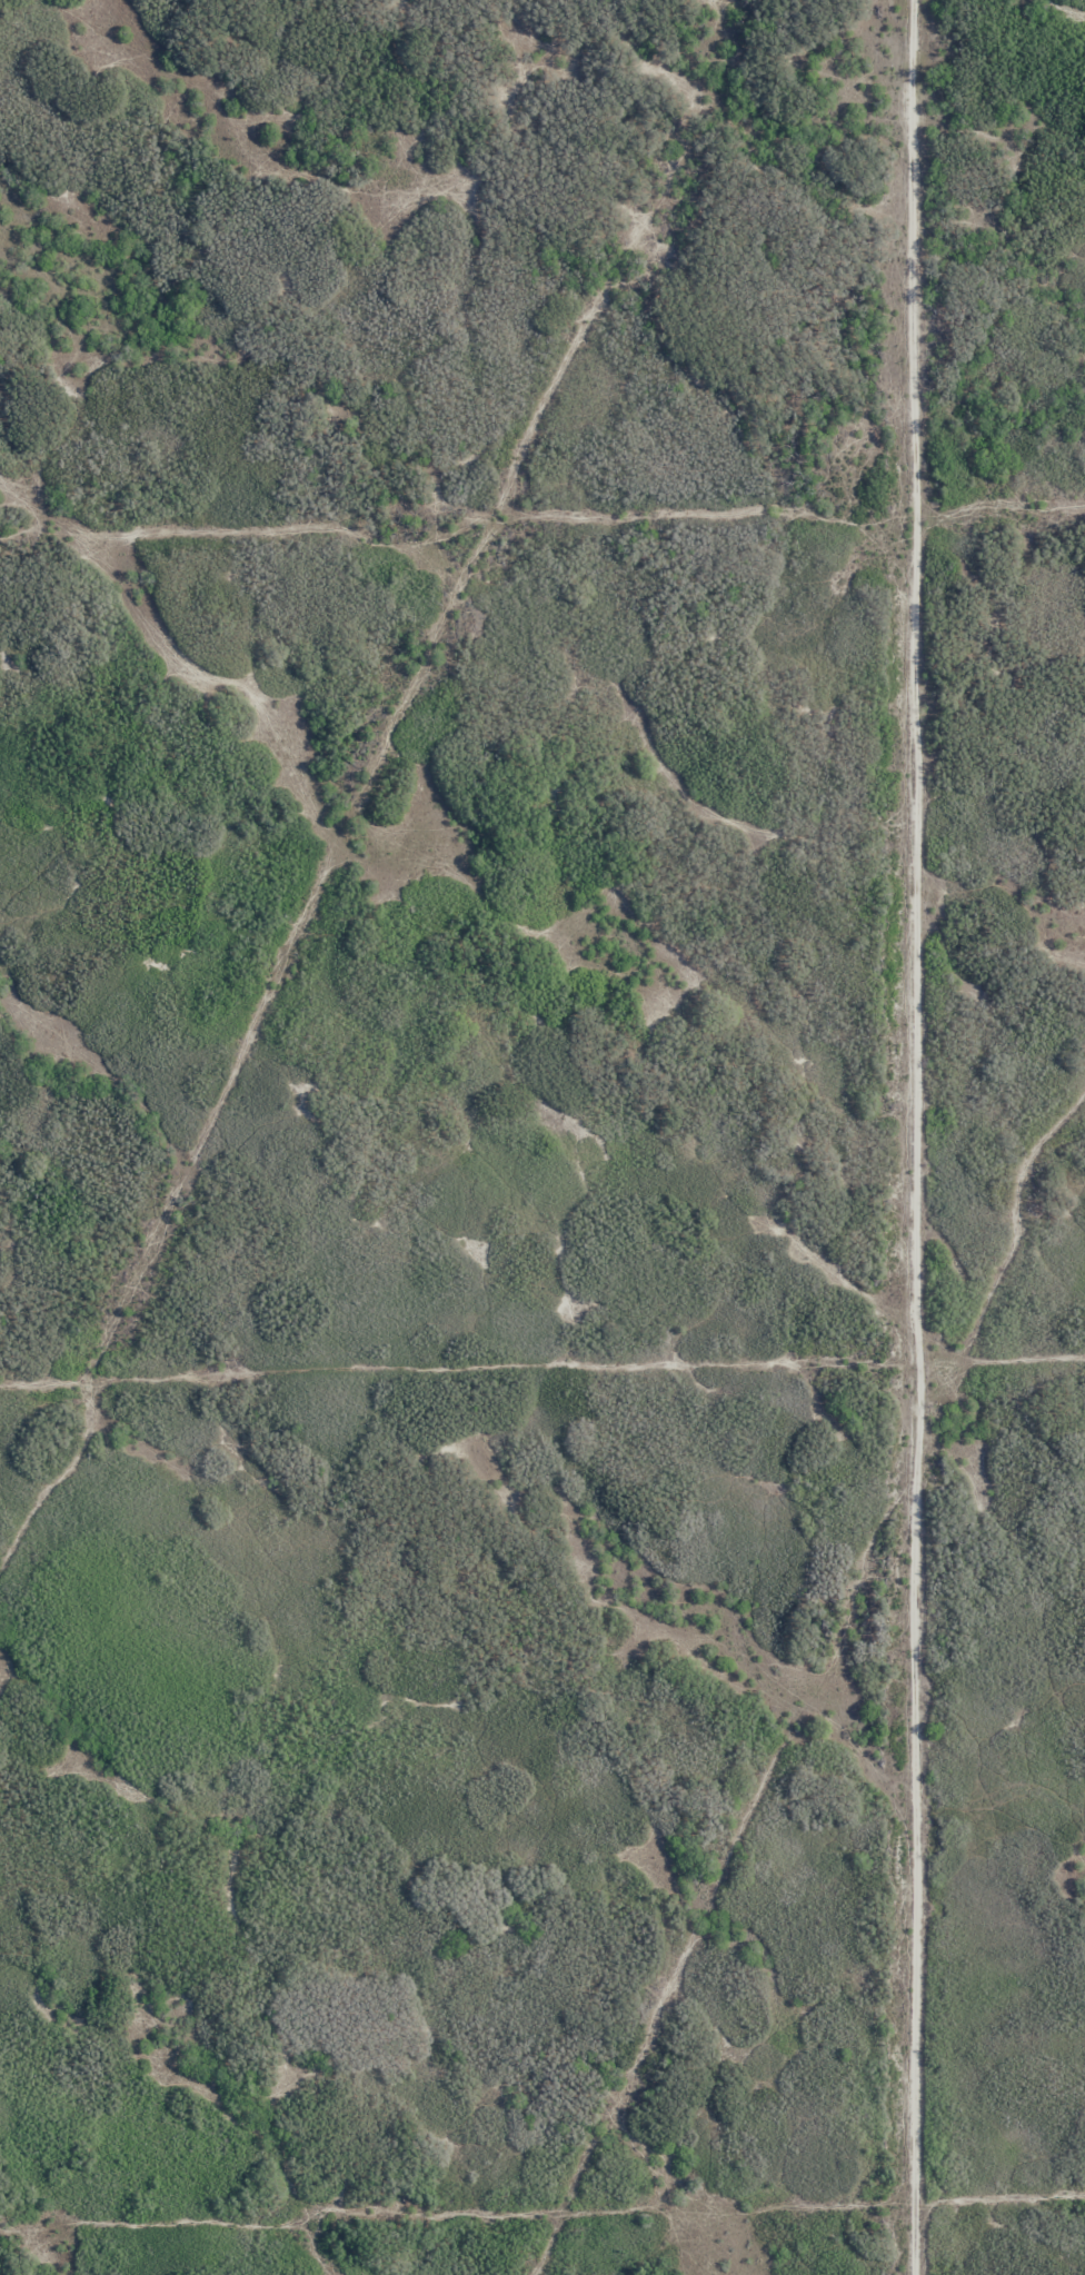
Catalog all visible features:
road: (915, 1136)

